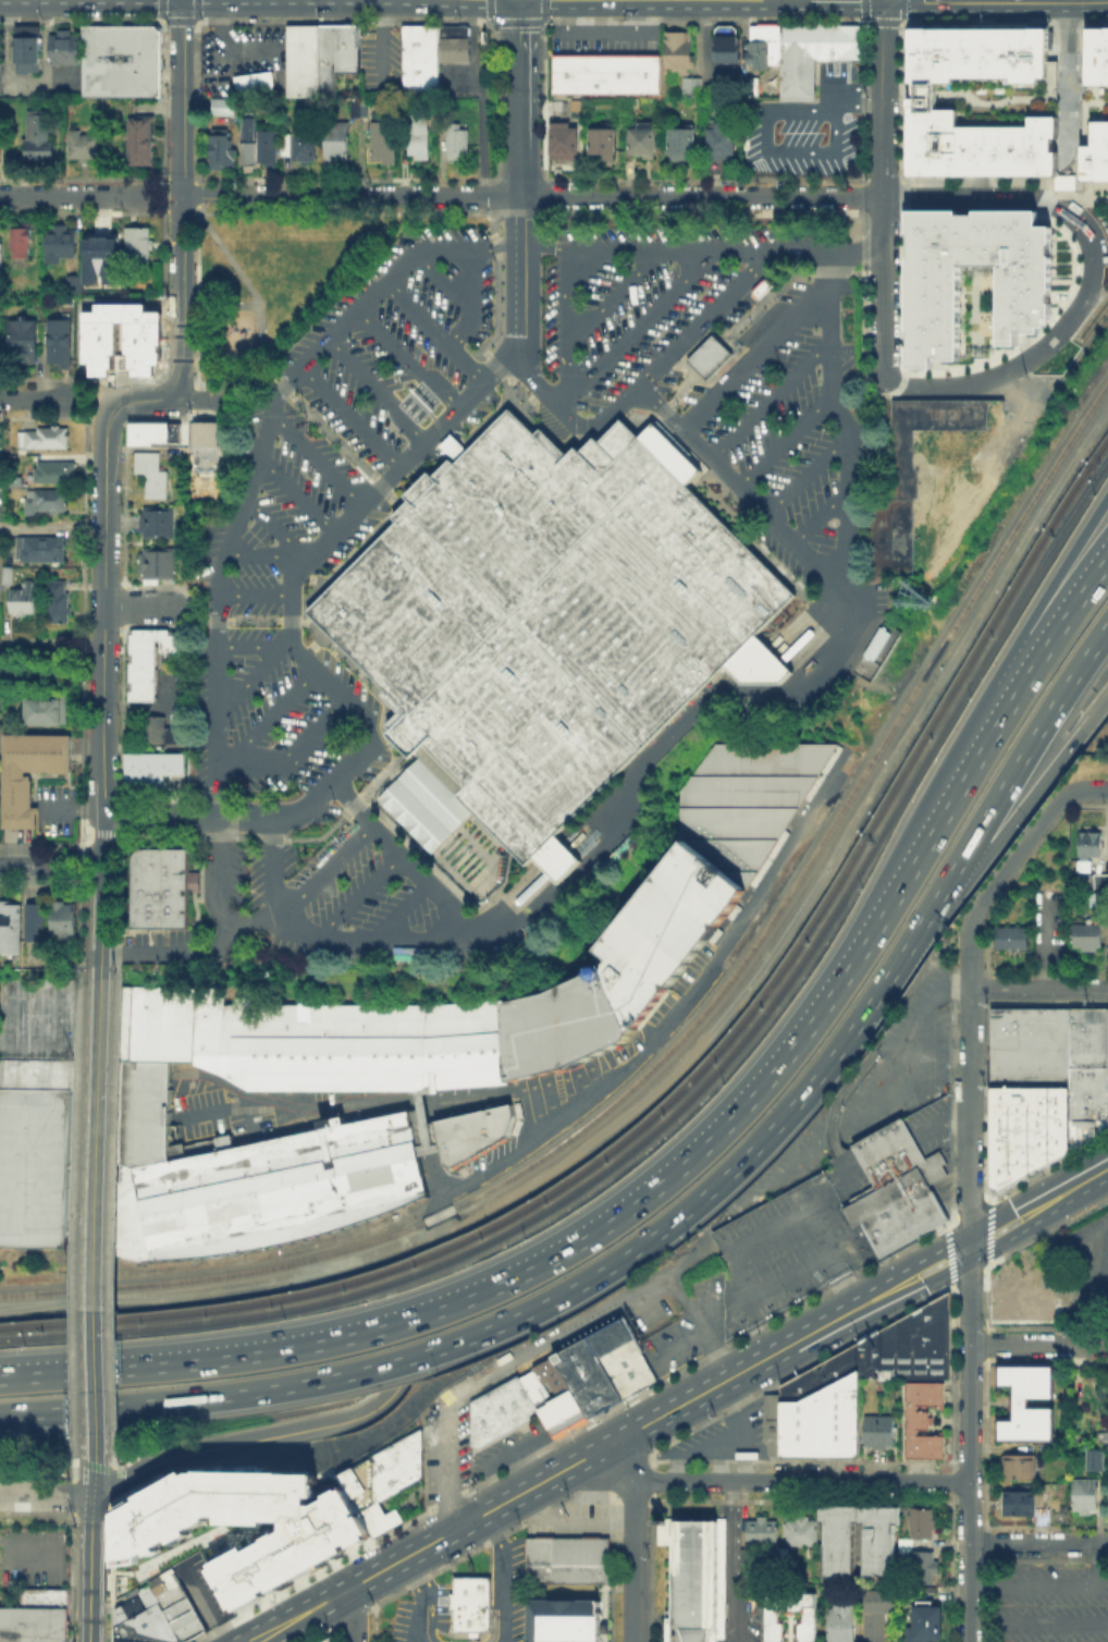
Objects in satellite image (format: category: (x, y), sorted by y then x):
road: (489, 3)
road: (512, 3)
road: (522, 3)
road: (544, 3)
road: (477, 7)
road: (253, 8)
traffic signals: (519, 8)
road: (604, 8)
road: (1051, 29)
road: (598, 32)
road: (224, 35)
parking lot: (602, 38)
building: (450, 41)
building: (723, 42)
building: (763, 45)
building: (677, 46)
building: (24, 47)
building: (61, 47)
building: (334, 53)
building: (809, 54)
parking lot: (238, 56)
parking lot: (378, 57)
building: (416, 57)
building: (299, 59)
parking lot: (0, 61)
building: (123, 62)
building: (602, 71)
parking lot: (455, 75)
road: (1054, 77)
road: (1071, 77)
road: (1097, 77)
road: (1066, 81)
building: (691, 84)
building: (749, 84)
building: (257, 85)
road: (1074, 91)
road: (1096, 91)
road: (1078, 93)
road: (1051, 94)
road: (882, 97)
building: (1008, 101)
parking lot: (1008, 101)
road: (518, 102)
building: (218, 105)
building: (359, 110)
road: (1054, 112)
road: (1067, 112)
road: (1094, 115)
road: (1072, 117)
parking lot: (803, 126)
building: (247, 127)
building: (599, 136)
building: (453, 138)
building: (559, 138)
building: (637, 138)
building: (138, 139)
building: (379, 139)
building: (414, 139)
building: (677, 139)
building: (717, 139)
building: (331, 140)
building: (35, 142)
building: (81, 143)
building: (283, 143)
building: (299, 143)
building: (262, 145)
building: (224, 151)
road: (1011, 162)
road: (140, 177)
road: (197, 177)
road: (981, 187)
road: (1062, 192)
road: (162, 194)
road: (229, 194)
road: (397, 196)
road: (700, 196)
road: (957, 196)
road: (1069, 196)
road: (70, 197)
road: (181, 201)
road: (144, 211)
road: (181, 211)
building: (19, 241)
building: (56, 242)
building: (136, 244)
building: (97, 246)
road: (496, 246)
road: (543, 247)
road: (664, 249)
road: (798, 249)
road: (857, 249)
building: (0, 258)
park: (281, 277)
parking lot: (595, 278)
road: (443, 283)
building: (761, 286)
building: (76, 287)
road: (881, 289)
building: (1023, 291)
road: (613, 293)
road: (469, 301)
parking lot: (620, 309)
parking lot: (545, 321)
road: (564, 322)
road: (638, 322)
road: (433, 333)
building: (119, 336)
road: (1051, 338)
building: (21, 339)
building: (58, 341)
parking lot: (645, 341)
road: (754, 354)
building: (709, 355)
road: (406, 360)
road: (262, 363)
road: (216, 364)
road: (641, 377)
parking lot: (756, 381)
road: (378, 389)
parking lot: (380, 394)
road: (32, 399)
road: (193, 399)
road: (767, 399)
road: (90, 400)
road: (561, 400)
road: (133, 402)
road: (349, 417)
parking lot: (774, 418)
road: (841, 418)
building: (925, 427)
building: (143, 430)
building: (41, 436)
road: (784, 439)
building: (204, 446)
building: (451, 446)
parking lot: (800, 450)
road: (316, 458)
building: (143, 459)
building: (25, 462)
parking lot: (3, 471)
building: (47, 471)
road: (805, 476)
road: (250, 480)
building: (151, 482)
road: (296, 494)
parking lot: (810, 497)
building: (41, 500)
road: (820, 517)
building: (160, 526)
road: (36, 528)
road: (89, 528)
road: (276, 529)
parking lot: (821, 536)
road: (324, 543)
building: (35, 551)
road: (263, 552)
building: (155, 561)
parking lot: (270, 576)
building: (9, 578)
road: (251, 592)
building: (24, 601)
building: (59, 602)
parking lot: (255, 602)
road: (140, 605)
road: (230, 620)
building: (544, 625)
road: (103, 641)
building: (875, 641)
road: (251, 642)
road: (30, 657)
road: (83, 657)
building: (147, 661)
road: (250, 676)
railway: (952, 683)
railway: (958, 696)
road: (981, 701)
parking lot: (269, 709)
building: (46, 711)
road: (685, 715)
road: (263, 719)
building: (147, 727)
road: (989, 736)
road: (290, 756)
building: (148, 772)
building: (30, 774)
road: (1091, 789)
building: (741, 798)
road: (993, 801)
road: (157, 814)
road: (996, 841)
building: (1091, 846)
road: (1018, 854)
road: (27, 865)
road: (70, 865)
road: (271, 869)
road: (321, 872)
building: (1100, 883)
building: (155, 889)
road: (358, 895)
building: (1094, 897)
parking lot: (1050, 904)
parking lot: (201, 912)
road: (397, 912)
road: (88, 919)
parking lot: (419, 919)
road: (100, 920)
building: (65, 923)
building: (38, 924)
building: (14, 928)
building: (662, 928)
road: (222, 935)
building: (1008, 936)
building: (1089, 939)
road: (345, 940)
road: (1043, 946)
water tower: (598, 971)
road: (1038, 990)
building: (37, 1017)
railway: (690, 1022)
building: (561, 1025)
road: (660, 1032)
road: (693, 1045)
parking lot: (906, 1056)
road: (144, 1074)
building: (1046, 1087)
road: (496, 1092)
road: (288, 1100)
road: (418, 1101)
building: (421, 1124)
building: (364, 1125)
parking lot: (933, 1127)
building: (469, 1132)
building: (35, 1150)
parking lot: (784, 1165)
building: (898, 1191)
road: (97, 1215)
road: (84, 1216)
railway: (457, 1240)
parking lot: (792, 1242)
railway: (463, 1251)
road: (552, 1258)
road: (969, 1283)
building: (1018, 1299)
parking lot: (682, 1318)
road: (503, 1320)
road: (701, 1323)
road: (579, 1326)
building: (932, 1336)
road: (1038, 1346)
building: (888, 1348)
building: (594, 1365)
building: (628, 1368)
road: (47, 1374)
building: (820, 1374)
building: (555, 1395)
road: (681, 1404)
building: (1030, 1404)
building: (502, 1411)
building: (924, 1420)
building: (821, 1424)
building: (881, 1432)
parking lot: (723, 1434)
road: (242, 1442)
parking lot: (485, 1449)
road: (82, 1458)
road: (79, 1459)
road: (94, 1459)
building: (1101, 1462)
road: (87, 1463)
road: (446, 1463)
building: (1021, 1469)
road: (93, 1480)
building: (383, 1480)
road: (770, 1481)
road: (78, 1482)
road: (46, 1495)
building: (1086, 1499)
building: (1025, 1504)
parking lot: (574, 1517)
building: (924, 1525)
building: (762, 1531)
building: (801, 1532)
road: (635, 1539)
building: (311, 1542)
road: (1038, 1543)
building: (881, 1551)
parking lot: (32, 1559)
building: (568, 1560)
road: (735, 1561)
road: (1097, 1561)
building: (923, 1567)
road: (90, 1569)
road: (503, 1576)
building: (695, 1580)
road: (1038, 1581)
parking lot: (434, 1588)
road: (420, 1597)
parking lot: (1050, 1602)
building: (472, 1603)
building: (175, 1604)
building: (157, 1613)
road: (492, 1613)
building: (877, 1614)
road: (430, 1615)
road: (348, 1617)
building: (771, 1617)
building: (133, 1620)
building: (564, 1621)
road: (1038, 1621)
building: (841, 1622)
building: (926, 1625)
building: (34, 1627)
road: (262, 1640)
building: (328, 1640)

